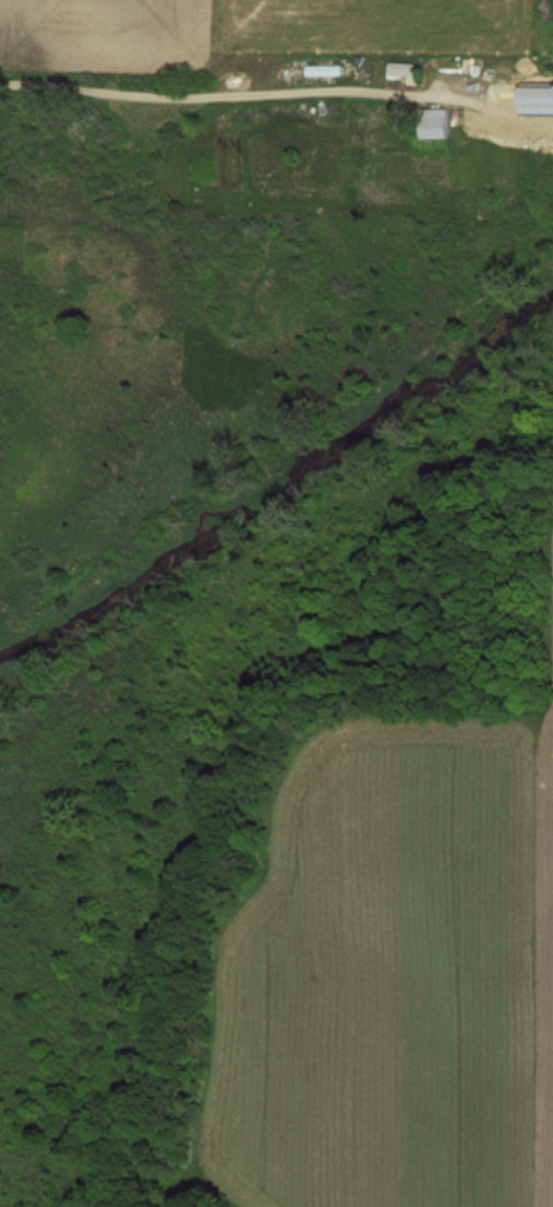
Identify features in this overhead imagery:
building: (459, 68)
road: (276, 95)

